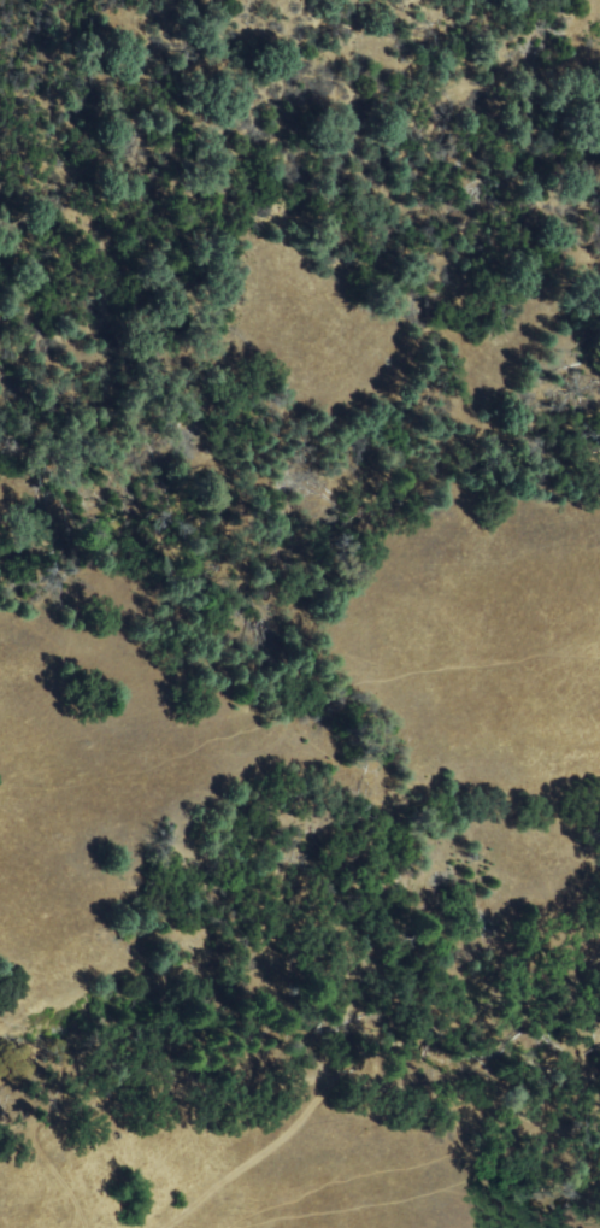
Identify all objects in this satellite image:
road: (300, 1067)

